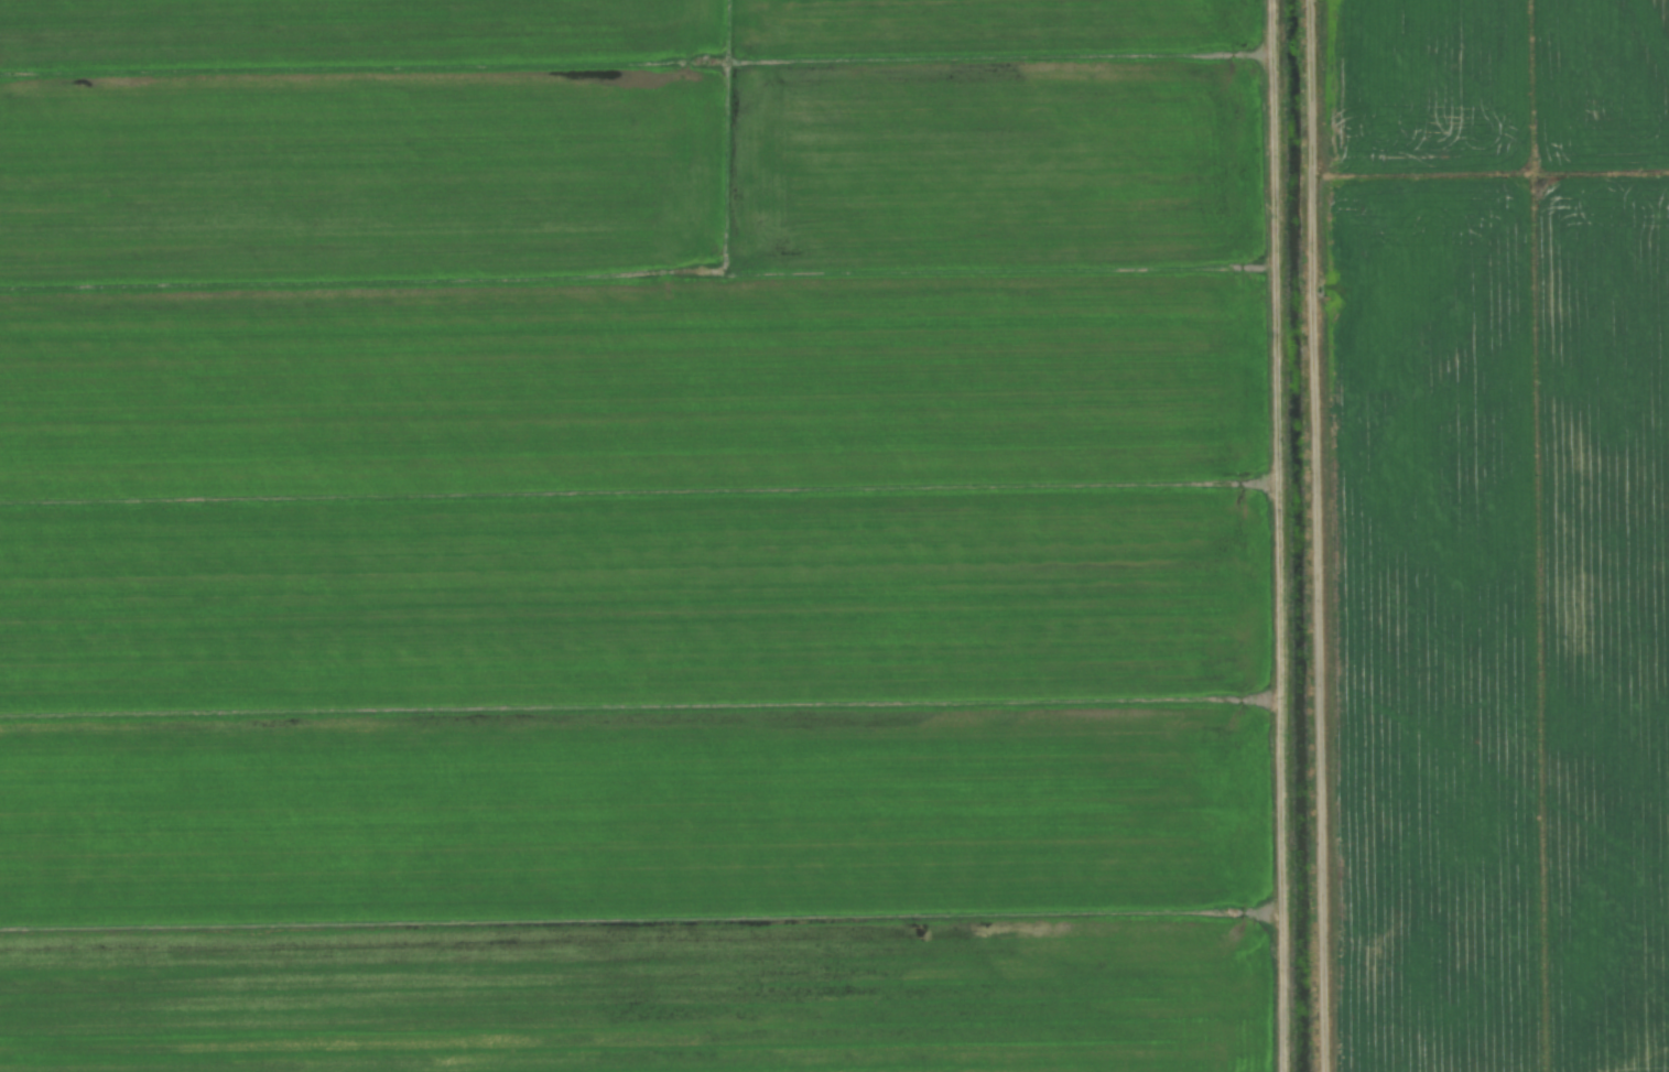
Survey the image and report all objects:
crop: (834, 535)

